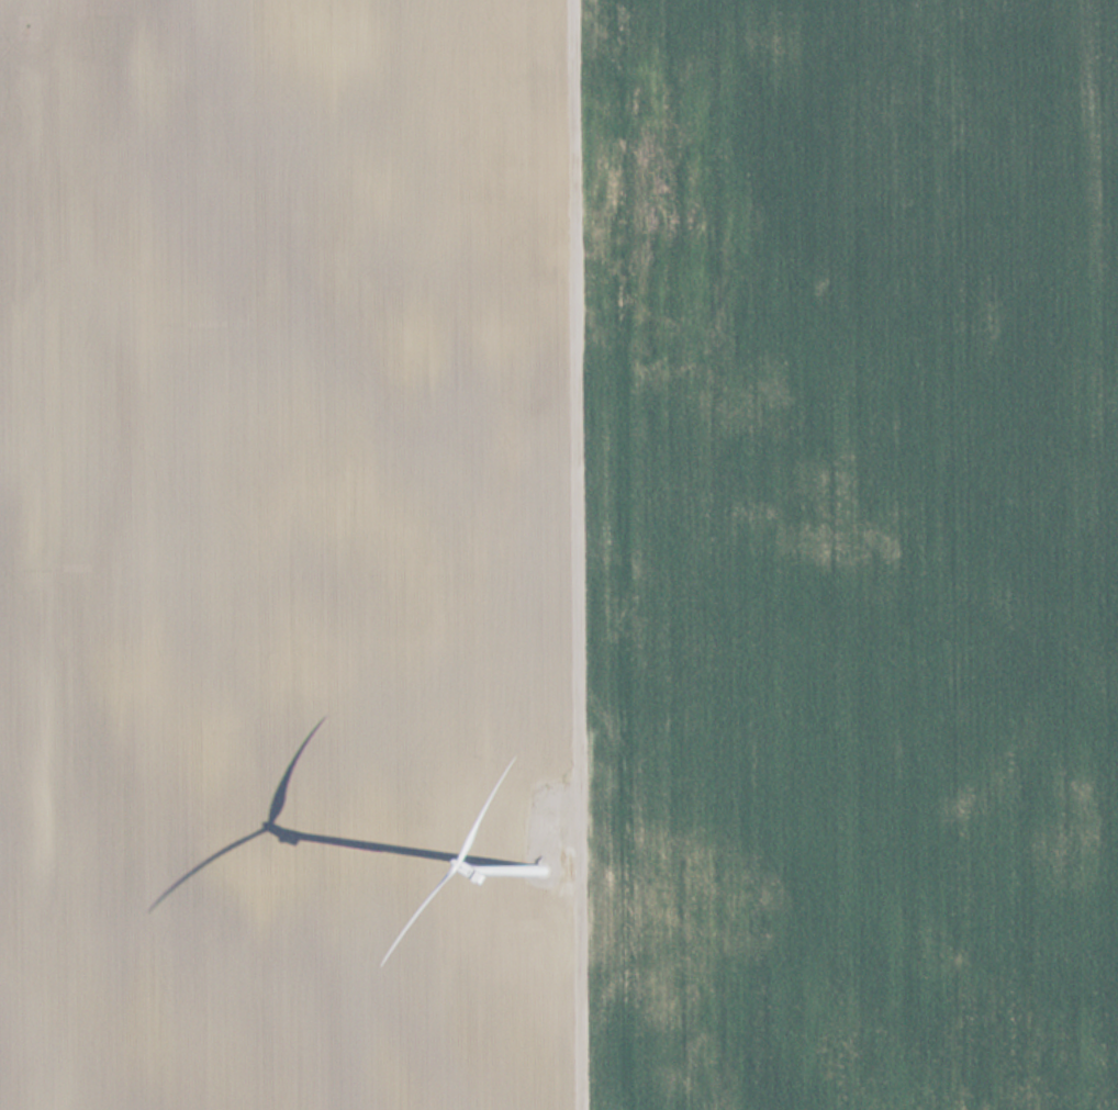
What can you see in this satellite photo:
road: (584, 554)
wind turbine: (560, 872)

